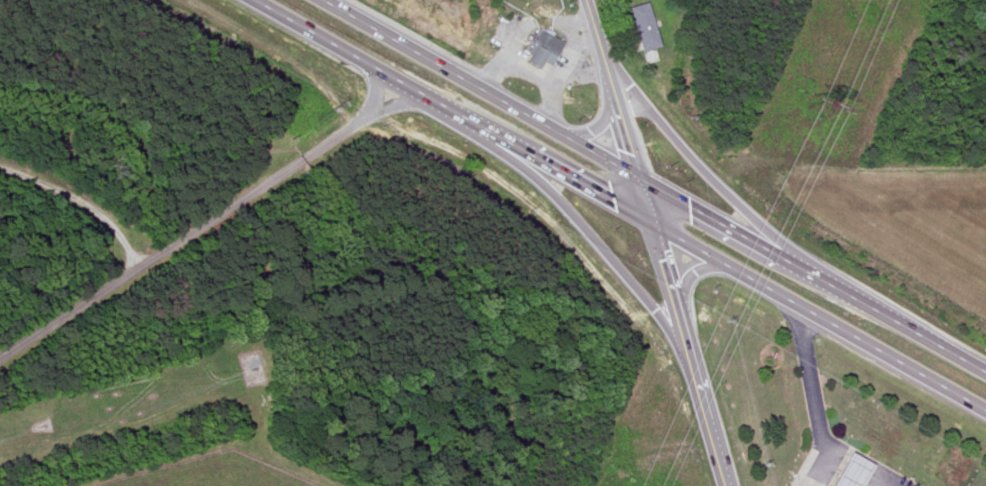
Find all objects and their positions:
building: (642, 26)
road: (595, 28)
road: (570, 37)
building: (542, 48)
building: (651, 55)
road: (575, 69)
road: (530, 73)
road: (608, 75)
road: (616, 101)
power tower: (821, 104)
road: (635, 106)
road: (600, 123)
road: (626, 140)
road: (696, 163)
traffic signals: (635, 172)
road: (656, 183)
road: (84, 194)
road: (642, 195)
road: (616, 200)
traffic signals: (650, 219)
road: (201, 224)
road: (598, 242)
road: (663, 263)
road: (691, 273)
road: (684, 335)
road: (813, 398)
road: (710, 425)
road: (833, 461)
building: (852, 471)
road: (852, 474)
building: (832, 483)
road: (869, 483)

